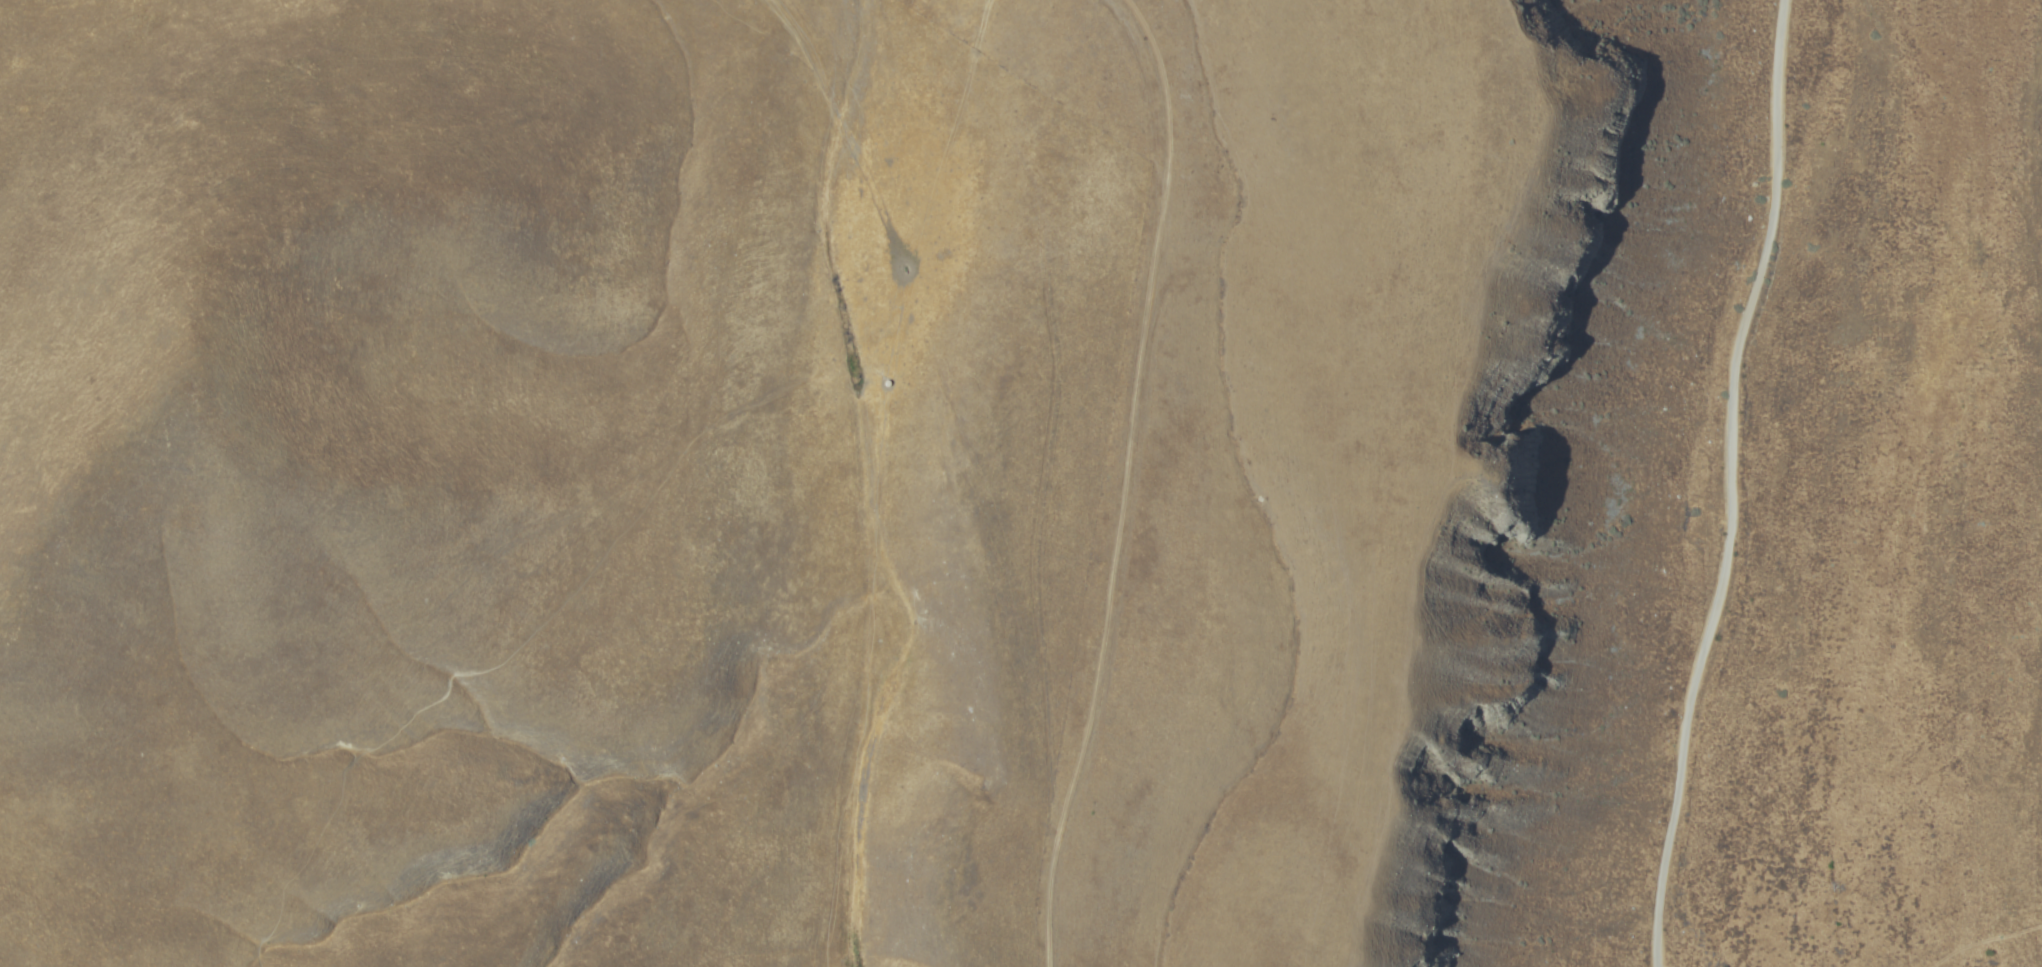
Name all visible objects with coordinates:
road: (1740, 486)

